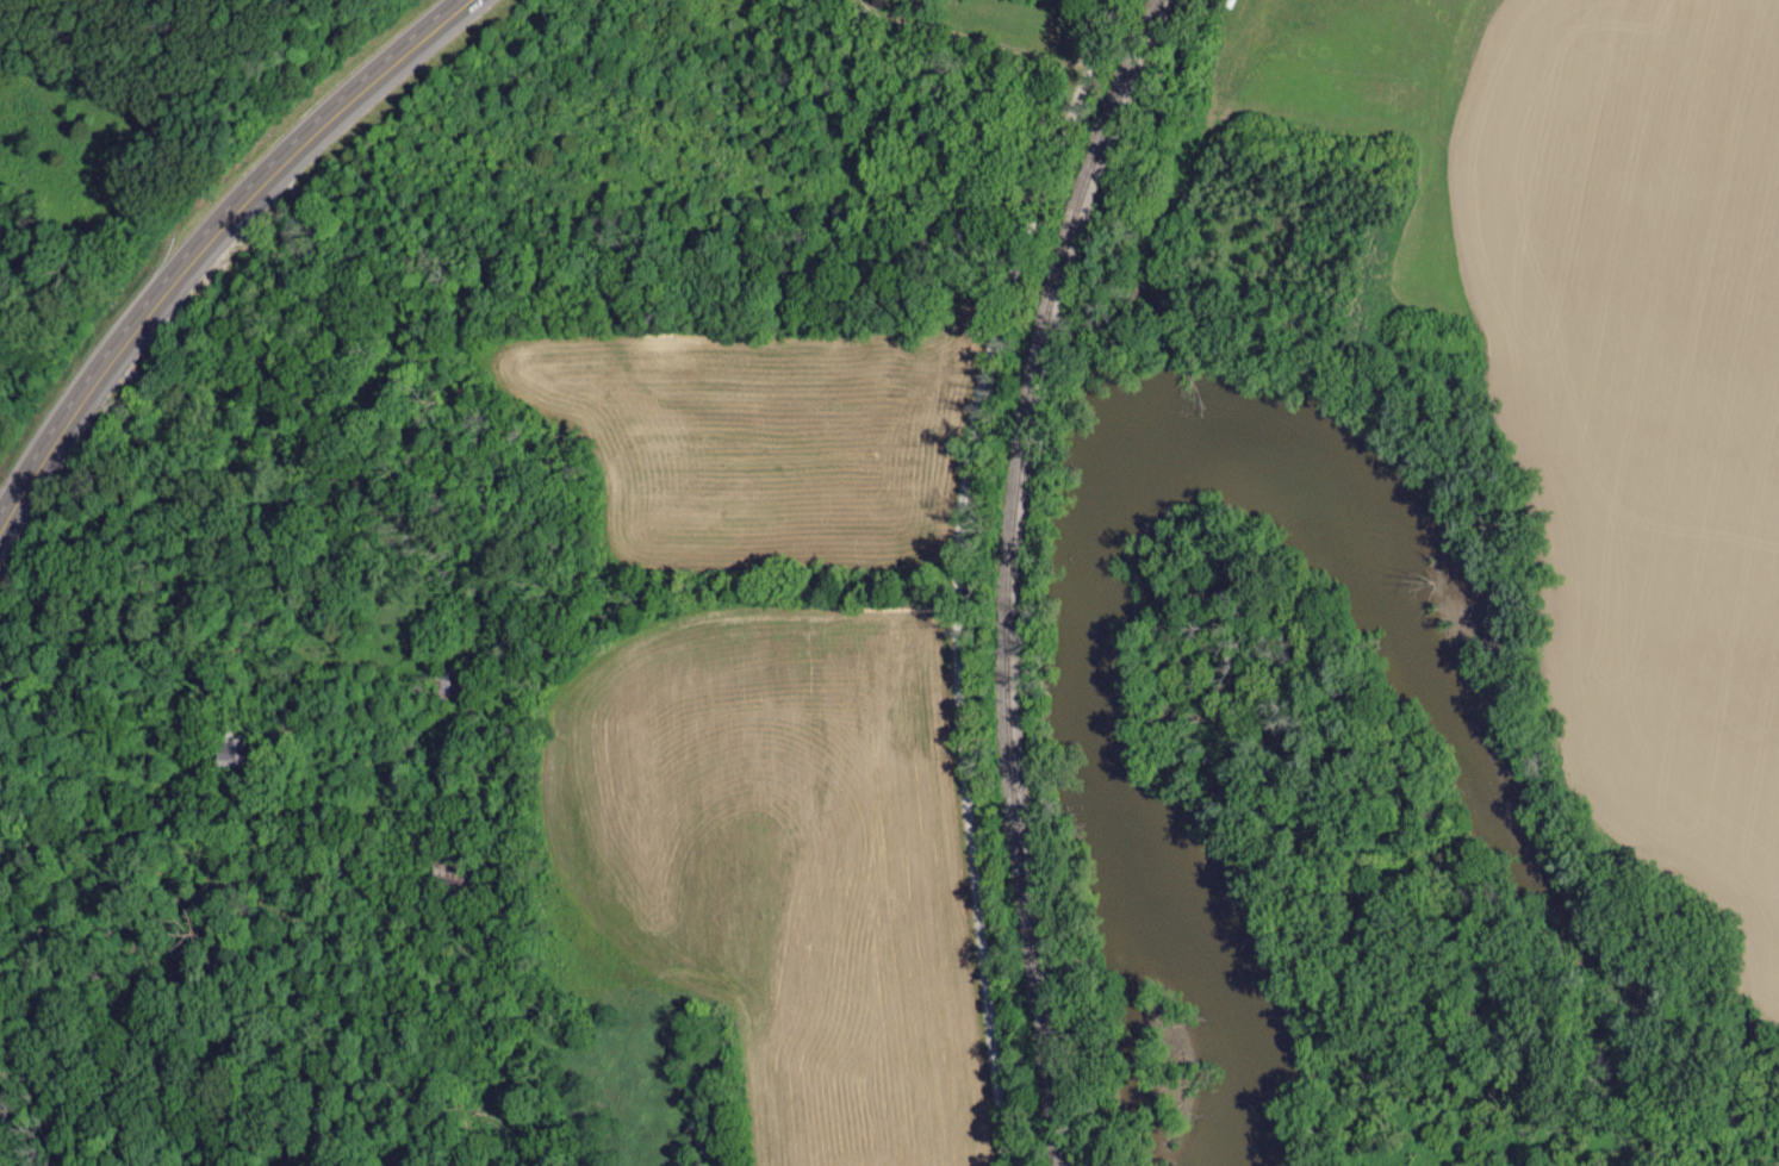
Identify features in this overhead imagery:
road: (210, 239)
road: (952, 572)
railway: (1002, 572)
building: (234, 755)

